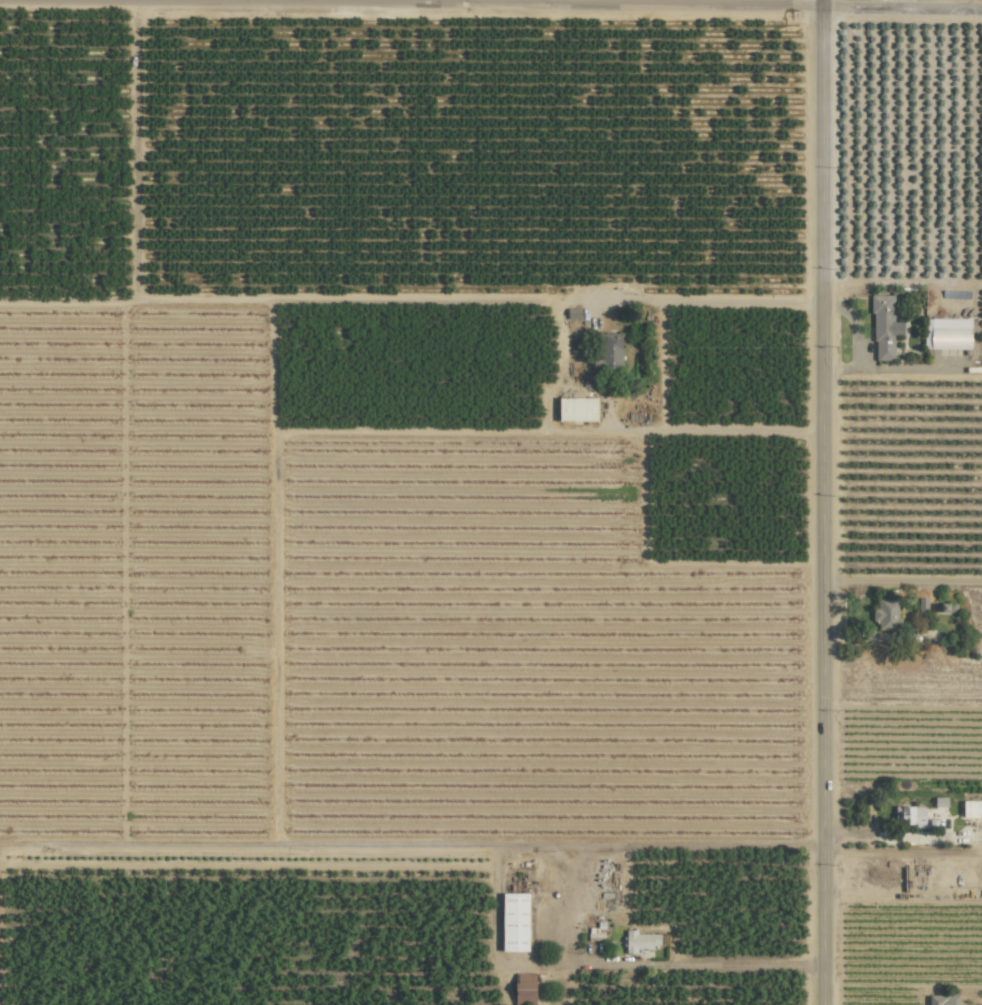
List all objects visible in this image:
road: (558, 2)
road: (593, 4)
building: (884, 328)
building: (948, 333)
building: (606, 351)
road: (662, 365)
building: (577, 409)
road: (822, 502)
building: (886, 614)
building: (972, 809)
building: (912, 816)
road: (902, 838)
road: (902, 895)
road: (496, 905)
building: (515, 922)
building: (640, 941)
building: (525, 988)
building: (943, 999)

